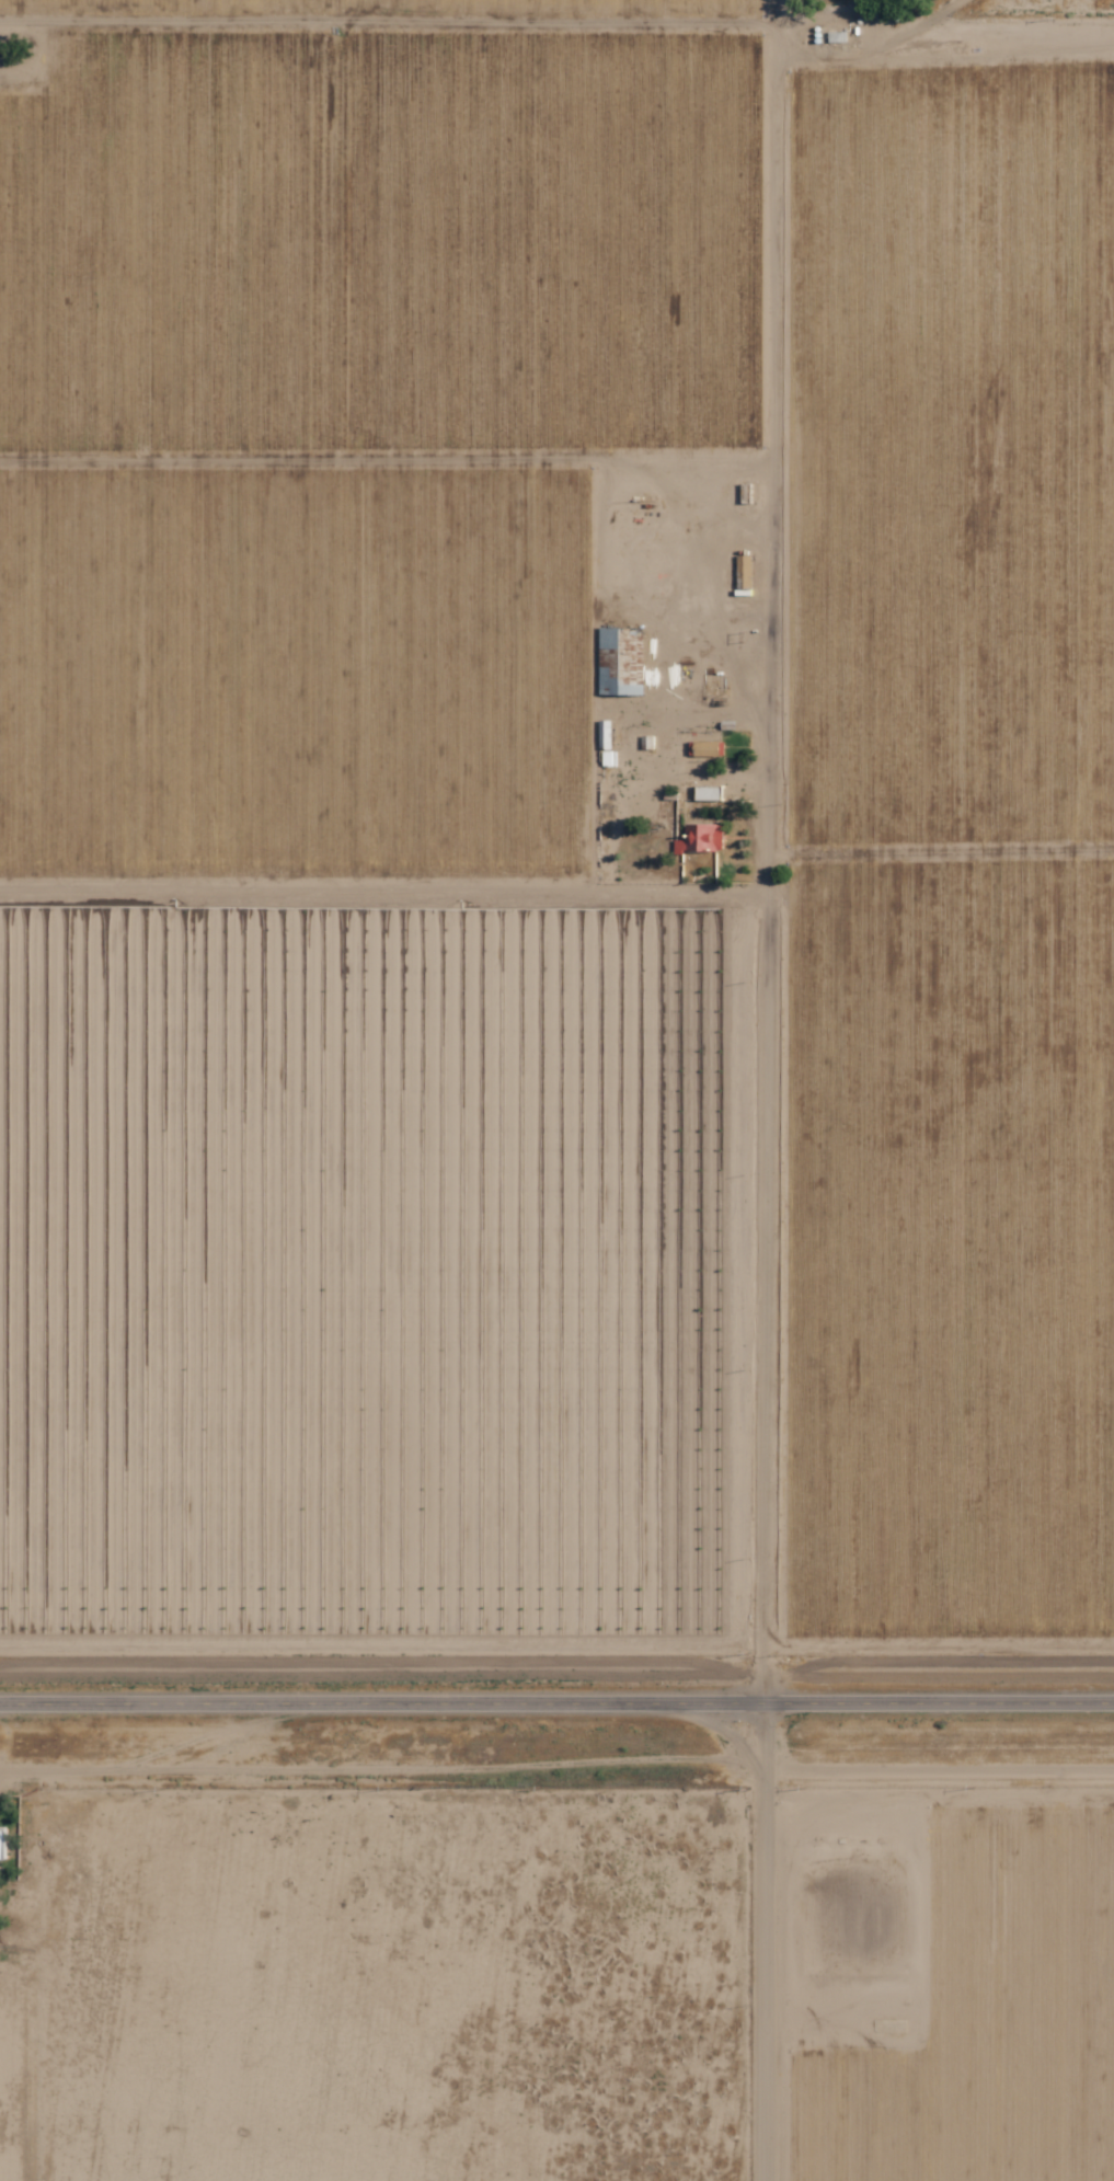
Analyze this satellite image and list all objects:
crop: (389, 7)
road: (772, 15)
road: (561, 27)
crop: (379, 248)
crop: (950, 455)
road: (384, 461)
crop: (295, 674)
road: (940, 852)
road: (767, 871)
road: (383, 888)
crop: (950, 1247)
crop: (374, 1282)
road: (556, 1704)
building: (2, 1844)
road: (760, 1942)

